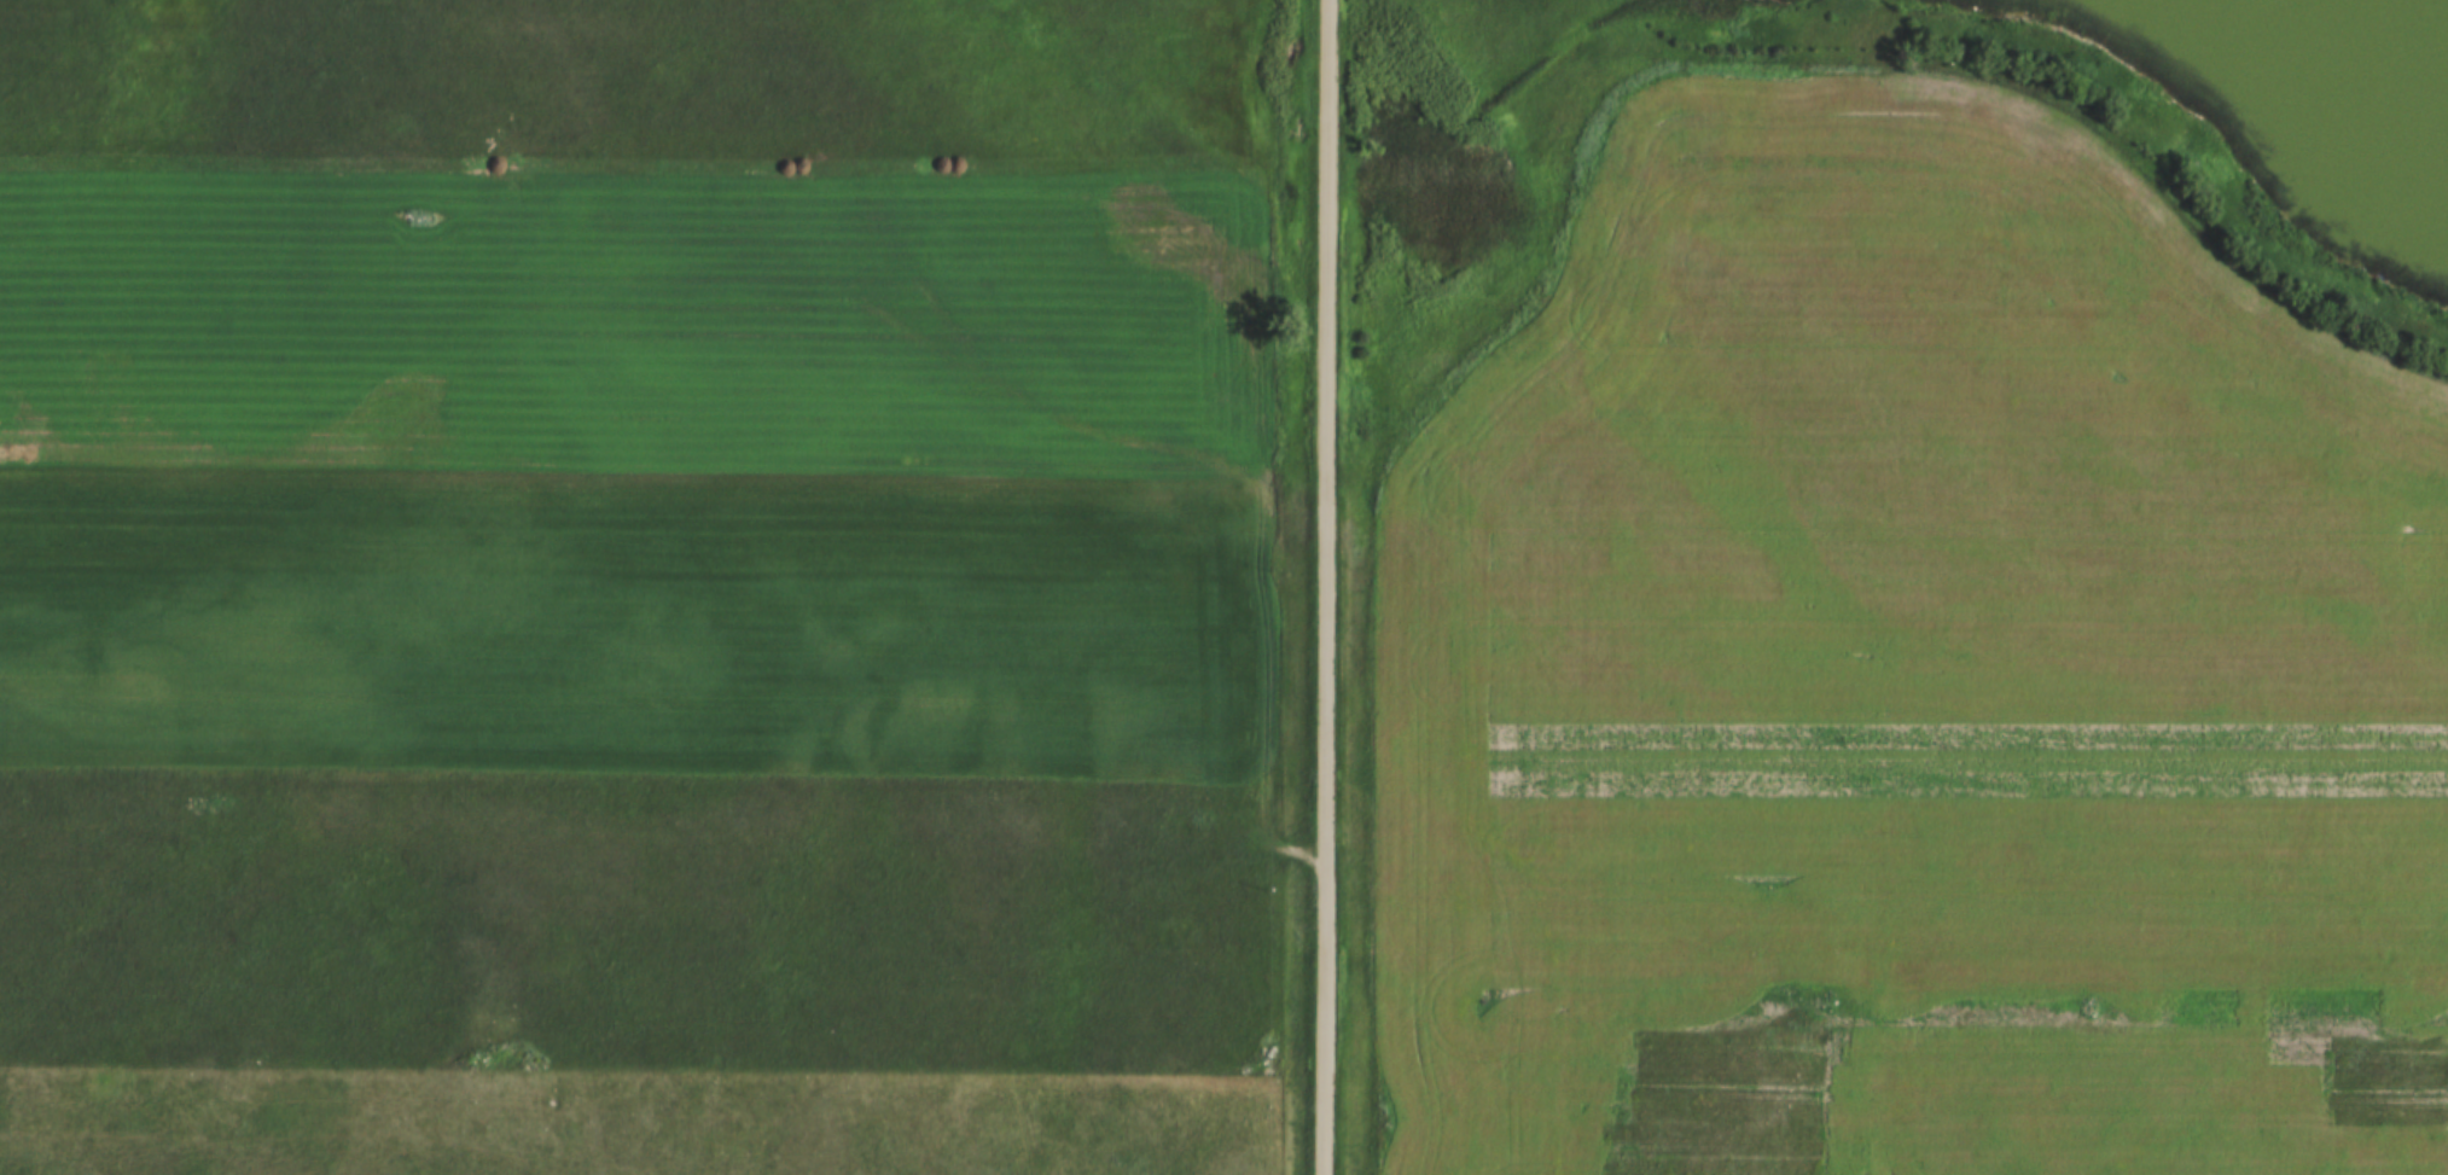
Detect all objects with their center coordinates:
road: (1324, 587)
road: (1197, 976)

